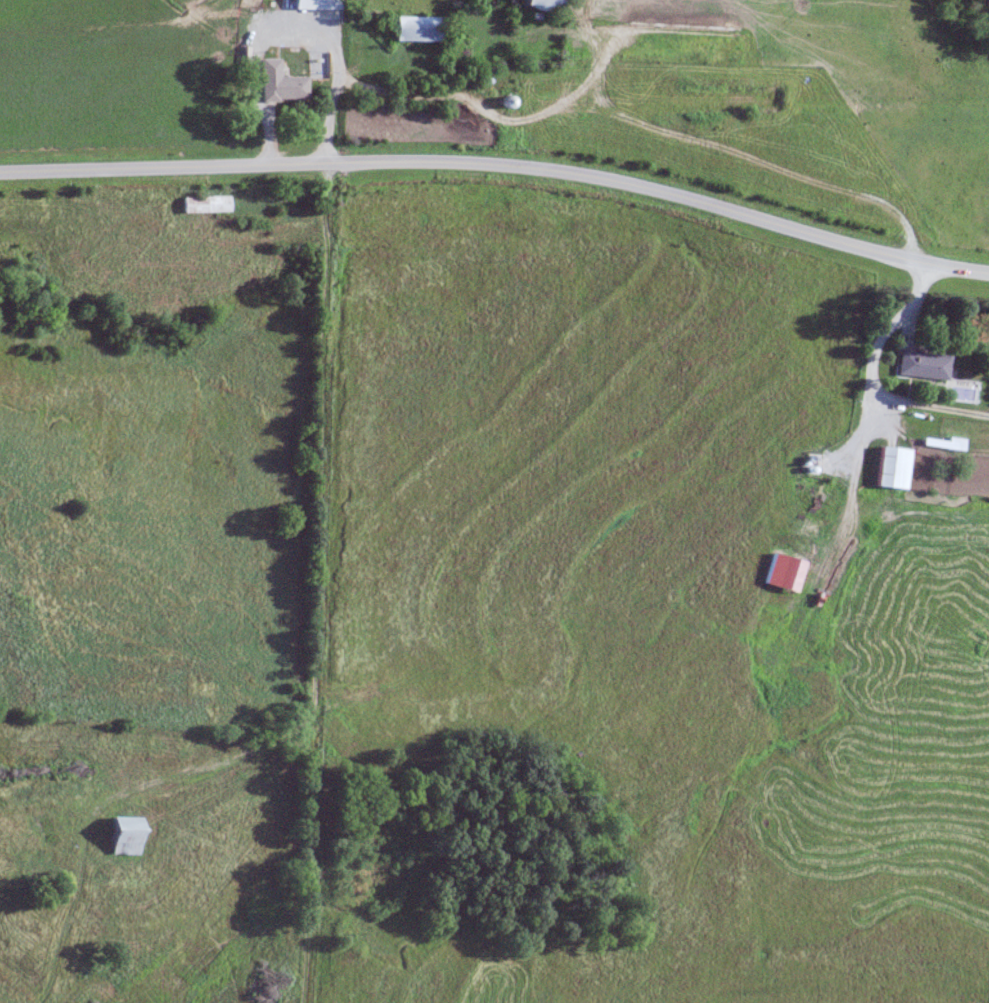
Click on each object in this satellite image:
building: (317, 5)
building: (542, 6)
building: (418, 31)
road: (291, 33)
building: (284, 90)
road: (640, 118)
road: (500, 162)
building: (205, 206)
building: (924, 366)
road: (866, 416)
building: (943, 444)
building: (894, 469)
road: (319, 517)
building: (126, 836)

